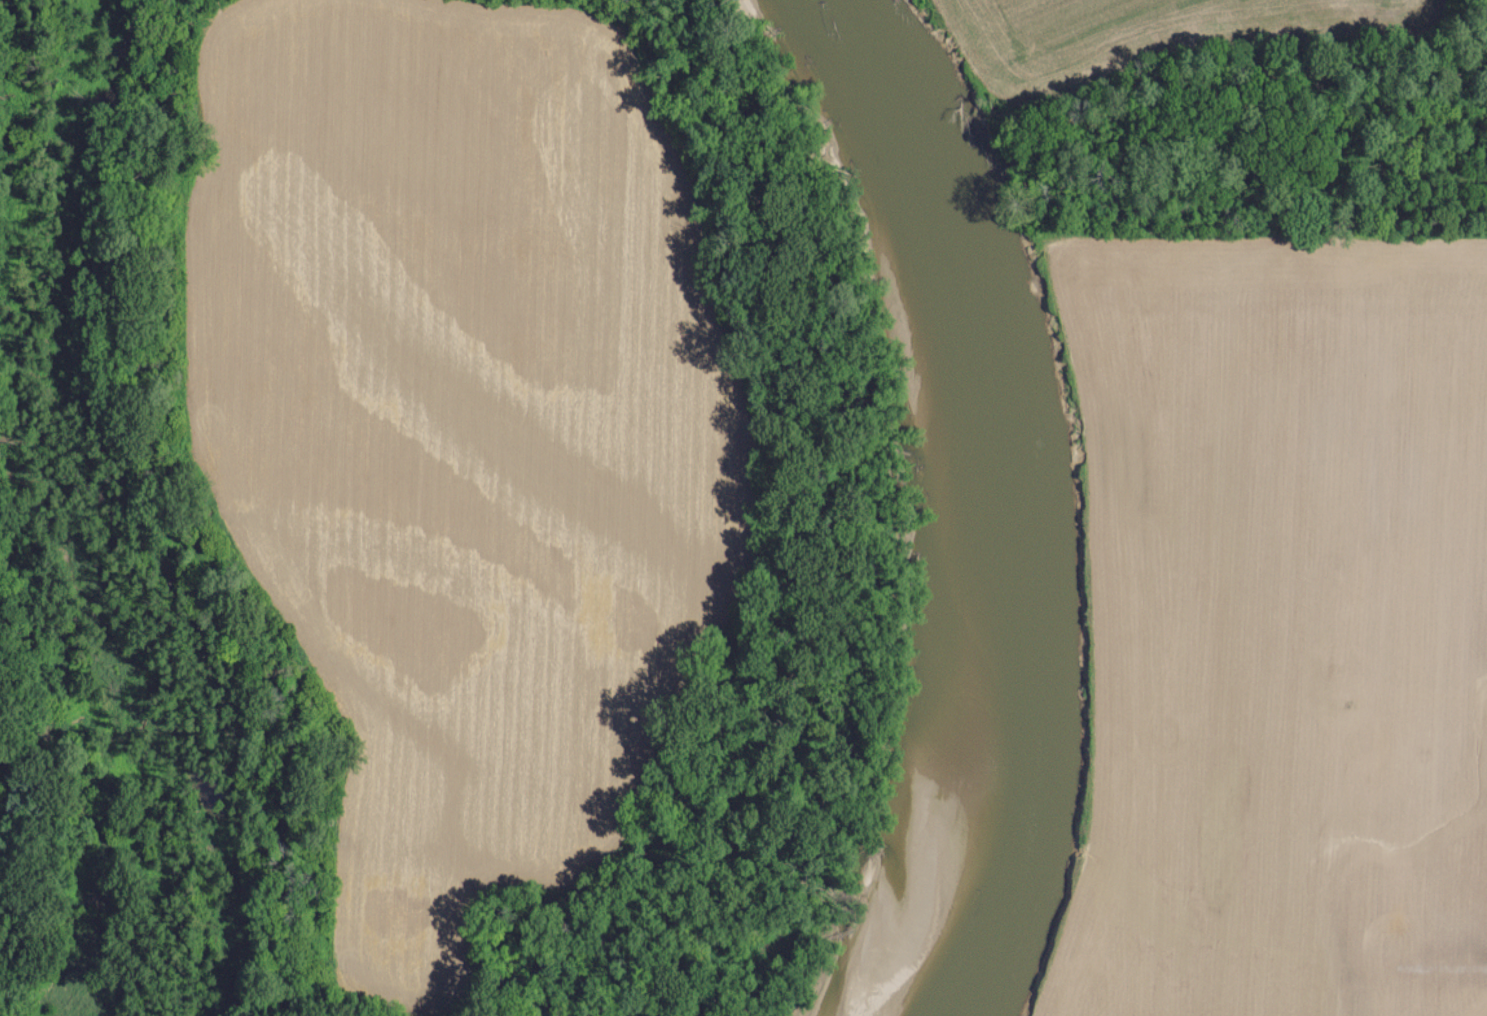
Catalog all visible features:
river: (985, 500)

